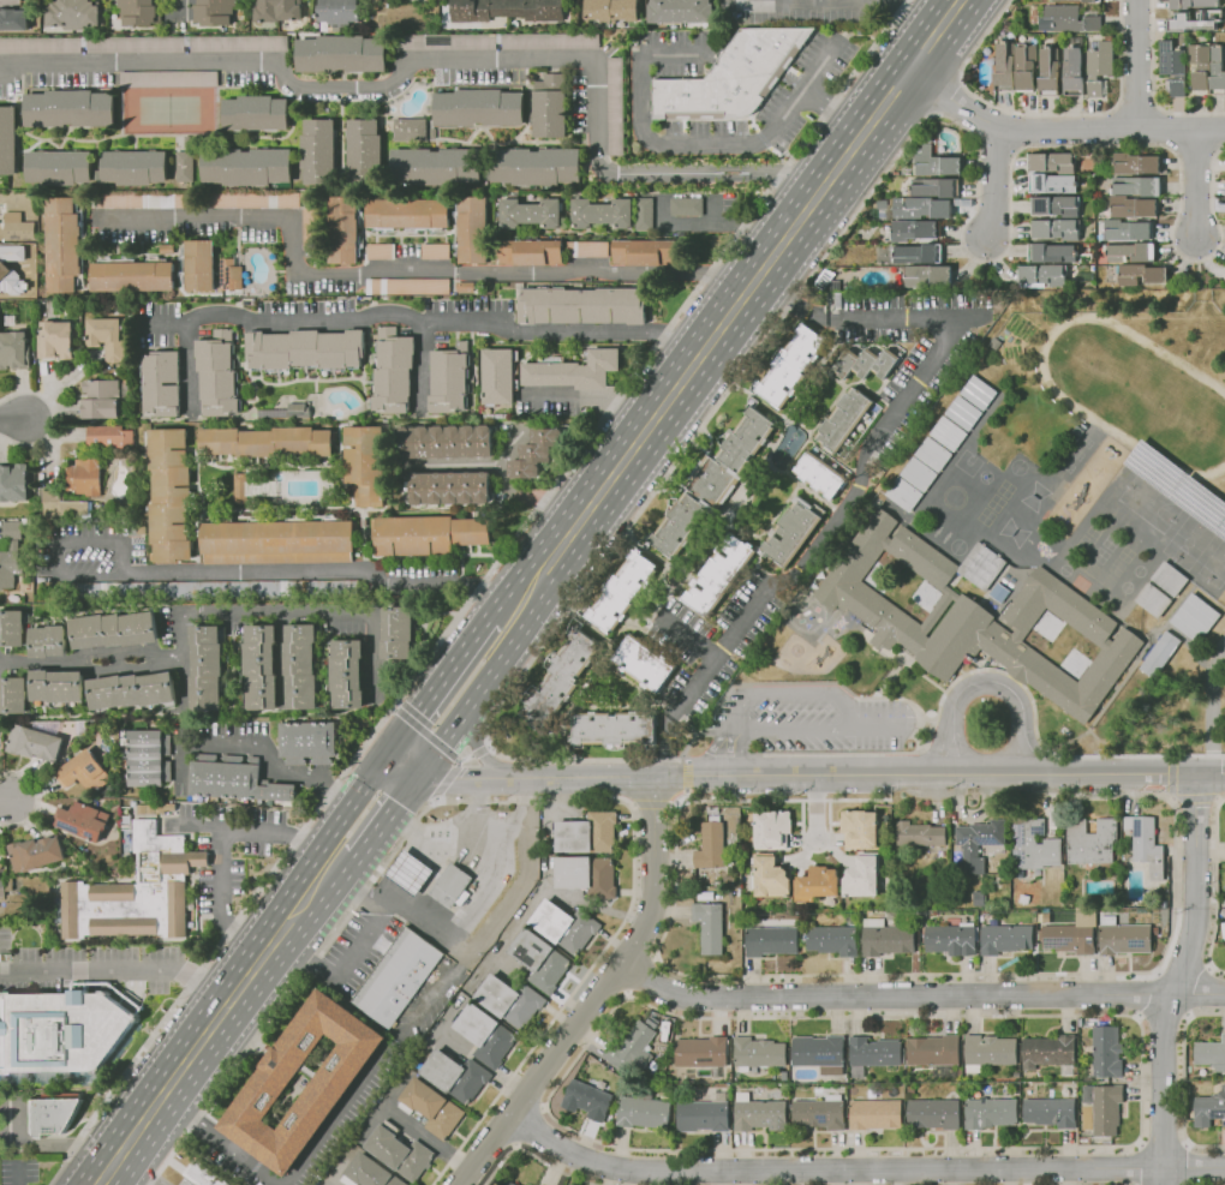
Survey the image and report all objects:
building: (1077, 0)
road: (843, 1)
building: (1193, 4)
road: (174, 10)
building: (277, 10)
building: (339, 10)
building: (508, 10)
building: (611, 10)
building: (680, 10)
building: (214, 11)
building: (139, 12)
building: (72, 13)
building: (1068, 19)
building: (1195, 20)
building: (1008, 29)
building: (411, 41)
building: (96, 43)
building: (237, 43)
building: (341, 54)
road: (449, 55)
building: (1004, 65)
building: (1072, 65)
road: (1136, 65)
building: (1024, 66)
building: (1200, 66)
building: (1098, 67)
building: (1048, 68)
building: (1172, 68)
building: (1217, 71)
building: (733, 76)
building: (167, 78)
road: (1152, 88)
road: (948, 97)
building: (548, 103)
building: (612, 106)
building: (68, 107)
building: (479, 107)
road: (1135, 108)
building: (255, 112)
road: (1038, 112)
road: (827, 115)
building: (410, 127)
road: (1058, 130)
building: (7, 138)
road: (1000, 142)
road: (691, 145)
building: (363, 146)
road: (1194, 148)
building: (318, 149)
building: (937, 162)
building: (1051, 162)
building: (246, 163)
building: (536, 163)
building: (1135, 163)
building: (58, 164)
building: (133, 164)
building: (183, 164)
building: (436, 166)
road: (994, 181)
building: (1052, 184)
building: (1136, 186)
road: (1197, 186)
building: (933, 187)
building: (114, 199)
building: (685, 205)
road: (861, 205)
building: (1056, 205)
building: (921, 208)
building: (1133, 208)
building: (530, 211)
building: (602, 211)
building: (407, 213)
building: (644, 213)
road: (727, 223)
building: (16, 227)
building: (307, 228)
building: (342, 228)
building: (472, 228)
building: (913, 229)
building: (1056, 229)
building: (1127, 229)
building: (64, 243)
building: (587, 249)
building: (645, 250)
building: (377, 251)
building: (434, 251)
building: (530, 251)
building: (1130, 252)
building: (916, 253)
building: (1052, 253)
building: (199, 264)
road: (405, 271)
building: (1141, 274)
building: (132, 275)
building: (927, 275)
building: (1042, 276)
road: (1199, 281)
building: (406, 286)
building: (833, 286)
building: (833, 300)
road: (740, 301)
road: (788, 304)
building: (582, 305)
road: (429, 324)
road: (945, 330)
building: (107, 335)
building: (56, 339)
building: (304, 348)
building: (13, 349)
building: (867, 363)
road: (189, 364)
road: (418, 365)
building: (790, 366)
building: (390, 367)
building: (215, 370)
building: (573, 370)
building: (497, 375)
building: (447, 378)
building: (162, 382)
building: (978, 393)
park: (1139, 394)
road: (592, 396)
track: (1059, 396)
building: (101, 397)
building: (962, 413)
road: (53, 417)
building: (843, 419)
road: (14, 420)
building: (948, 433)
building: (110, 436)
building: (265, 441)
building: (446, 441)
building: (536, 451)
building: (932, 454)
building: (365, 462)
road: (491, 472)
building: (84, 473)
building: (820, 474)
building: (918, 474)
building: (13, 481)
building: (713, 483)
building: (1178, 485)
building: (239, 487)
building: (449, 487)
building: (169, 493)
building: (903, 495)
park: (1149, 502)
building: (60, 503)
building: (791, 532)
building: (428, 533)
building: (277, 540)
park: (1188, 540)
road: (56, 545)
building: (11, 552)
park: (1214, 564)
road: (325, 569)
building: (718, 575)
building: (244, 587)
building: (1160, 589)
road: (474, 591)
building: (622, 592)
building: (999, 593)
road: (757, 599)
road: (221, 612)
building: (976, 616)
building: (1195, 618)
building: (113, 627)
building: (12, 628)
building: (396, 632)
road: (687, 636)
building: (47, 640)
building: (1159, 654)
building: (644, 662)
building: (303, 665)
building: (261, 666)
road: (449, 666)
building: (204, 668)
road: (980, 670)
building: (347, 672)
building: (560, 678)
road: (986, 683)
building: (56, 686)
building: (130, 688)
road: (479, 690)
road: (791, 693)
building: (13, 695)
road: (394, 707)
parking lot: (809, 718)
building: (612, 728)
road: (878, 729)
road: (791, 731)
building: (307, 741)
building: (34, 743)
road: (438, 744)
traffic signals: (392, 746)
road: (488, 746)
road: (262, 747)
road: (480, 750)
road: (731, 753)
building: (149, 756)
road: (407, 758)
traffic signals: (423, 770)
building: (83, 771)
road: (823, 774)
road: (1172, 776)
building: (233, 777)
road: (446, 778)
road: (675, 779)
road: (37, 796)
road: (1196, 797)
road: (435, 801)
road: (8, 802)
road: (349, 802)
road: (516, 802)
road: (652, 803)
road: (814, 806)
road: (1173, 814)
building: (82, 820)
road: (382, 825)
building: (859, 828)
building: (772, 830)
building: (587, 833)
building: (919, 834)
building: (1089, 842)
building: (978, 843)
building: (710, 844)
road: (221, 845)
building: (1033, 845)
building: (1146, 845)
building: (1224, 846)
building: (35, 852)
gas station: (408, 872)
building: (410, 873)
building: (586, 875)
building: (769, 876)
building: (862, 876)
building: (452, 885)
building: (815, 885)
building: (473, 886)
road: (1217, 887)
building: (135, 892)
building: (464, 898)
building: (978, 898)
building: (1023, 899)
building: (848, 917)
building: (1046, 918)
building: (566, 926)
building: (710, 926)
building: (1123, 936)
building: (885, 938)
building: (1068, 938)
road: (479, 939)
building: (771, 939)
building: (951, 939)
building: (1004, 939)
building: (831, 940)
building: (539, 959)
road: (343, 964)
road: (120, 966)
road: (639, 974)
building: (396, 977)
road: (1177, 978)
road: (133, 987)
road: (599, 995)
road: (919, 995)
building: (512, 1000)
building: (655, 1021)
road: (215, 1025)
building: (60, 1030)
building: (667, 1031)
building: (485, 1035)
building: (633, 1047)
building: (596, 1052)
building: (701, 1052)
building: (760, 1052)
building: (988, 1052)
building: (1047, 1052)
building: (1106, 1052)
building: (820, 1053)
building: (874, 1053)
building: (937, 1054)
building: (1211, 1054)
road: (486, 1067)
road: (378, 1069)
building: (1066, 1071)
building: (456, 1076)
road: (1184, 1082)
building: (785, 1087)
building: (912, 1090)
building: (325, 1093)
building: (590, 1096)
building: (431, 1107)
building: (1105, 1108)
building: (1209, 1108)
building: (644, 1112)
building: (821, 1112)
building: (991, 1112)
building: (1050, 1112)
building: (877, 1113)
building: (934, 1113)
building: (759, 1114)
building: (48, 1115)
building: (704, 1115)
road: (530, 1126)
road: (430, 1138)
road: (222, 1143)
road: (1163, 1143)
road: (1088, 1147)
building: (400, 1151)
road: (537, 1157)
road: (1140, 1163)
road: (1185, 1165)
parking lot: (18, 1169)
road: (860, 1171)
road: (18, 1173)
building: (370, 1173)
building: (202, 1174)
building: (508, 1183)
road: (107, 1184)
road: (333, 1184)
building: (537, 1184)

